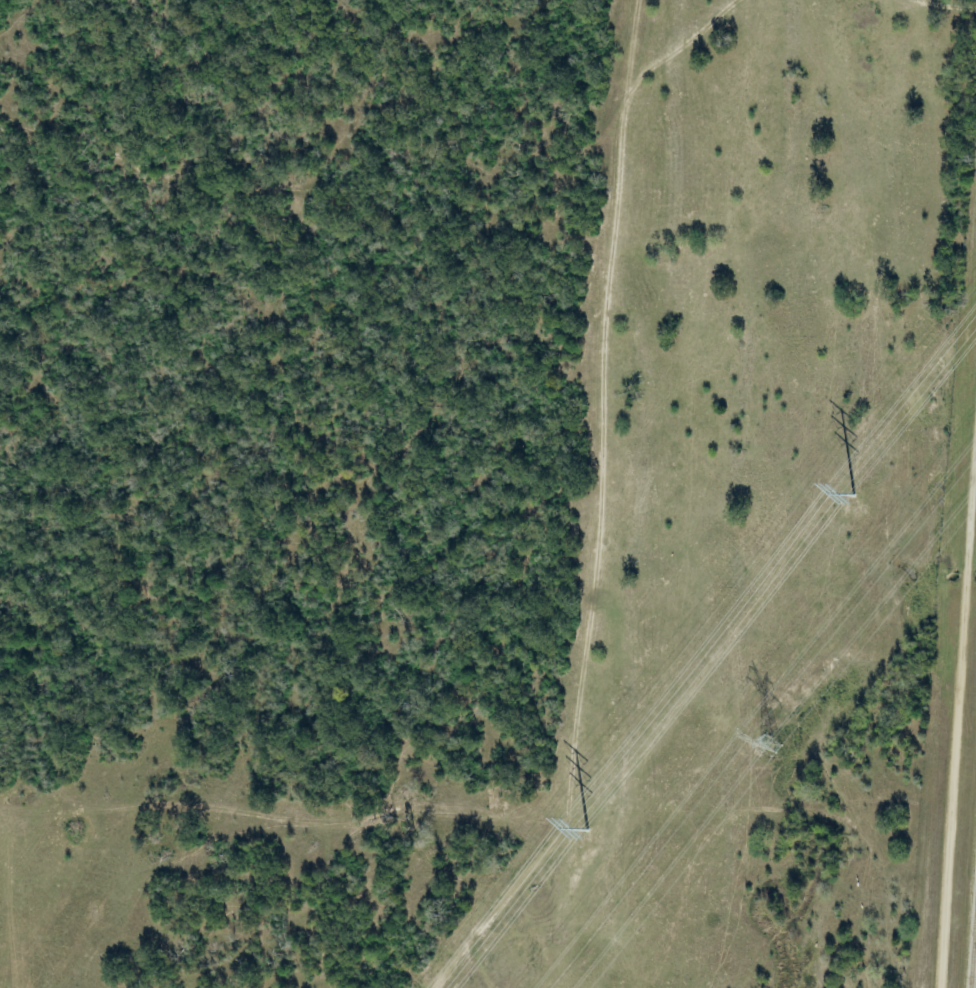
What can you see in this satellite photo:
road: (957, 743)
power tower: (770, 745)
railway: (974, 962)

